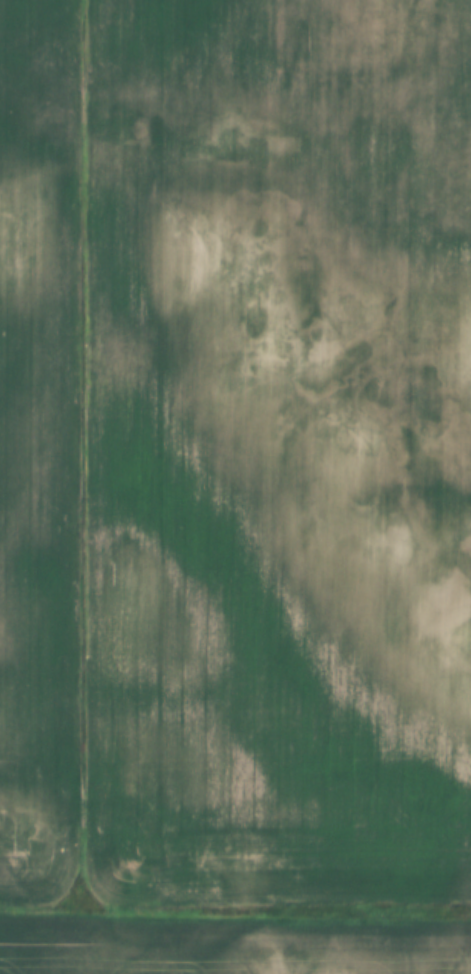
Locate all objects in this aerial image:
road: (235, 905)

